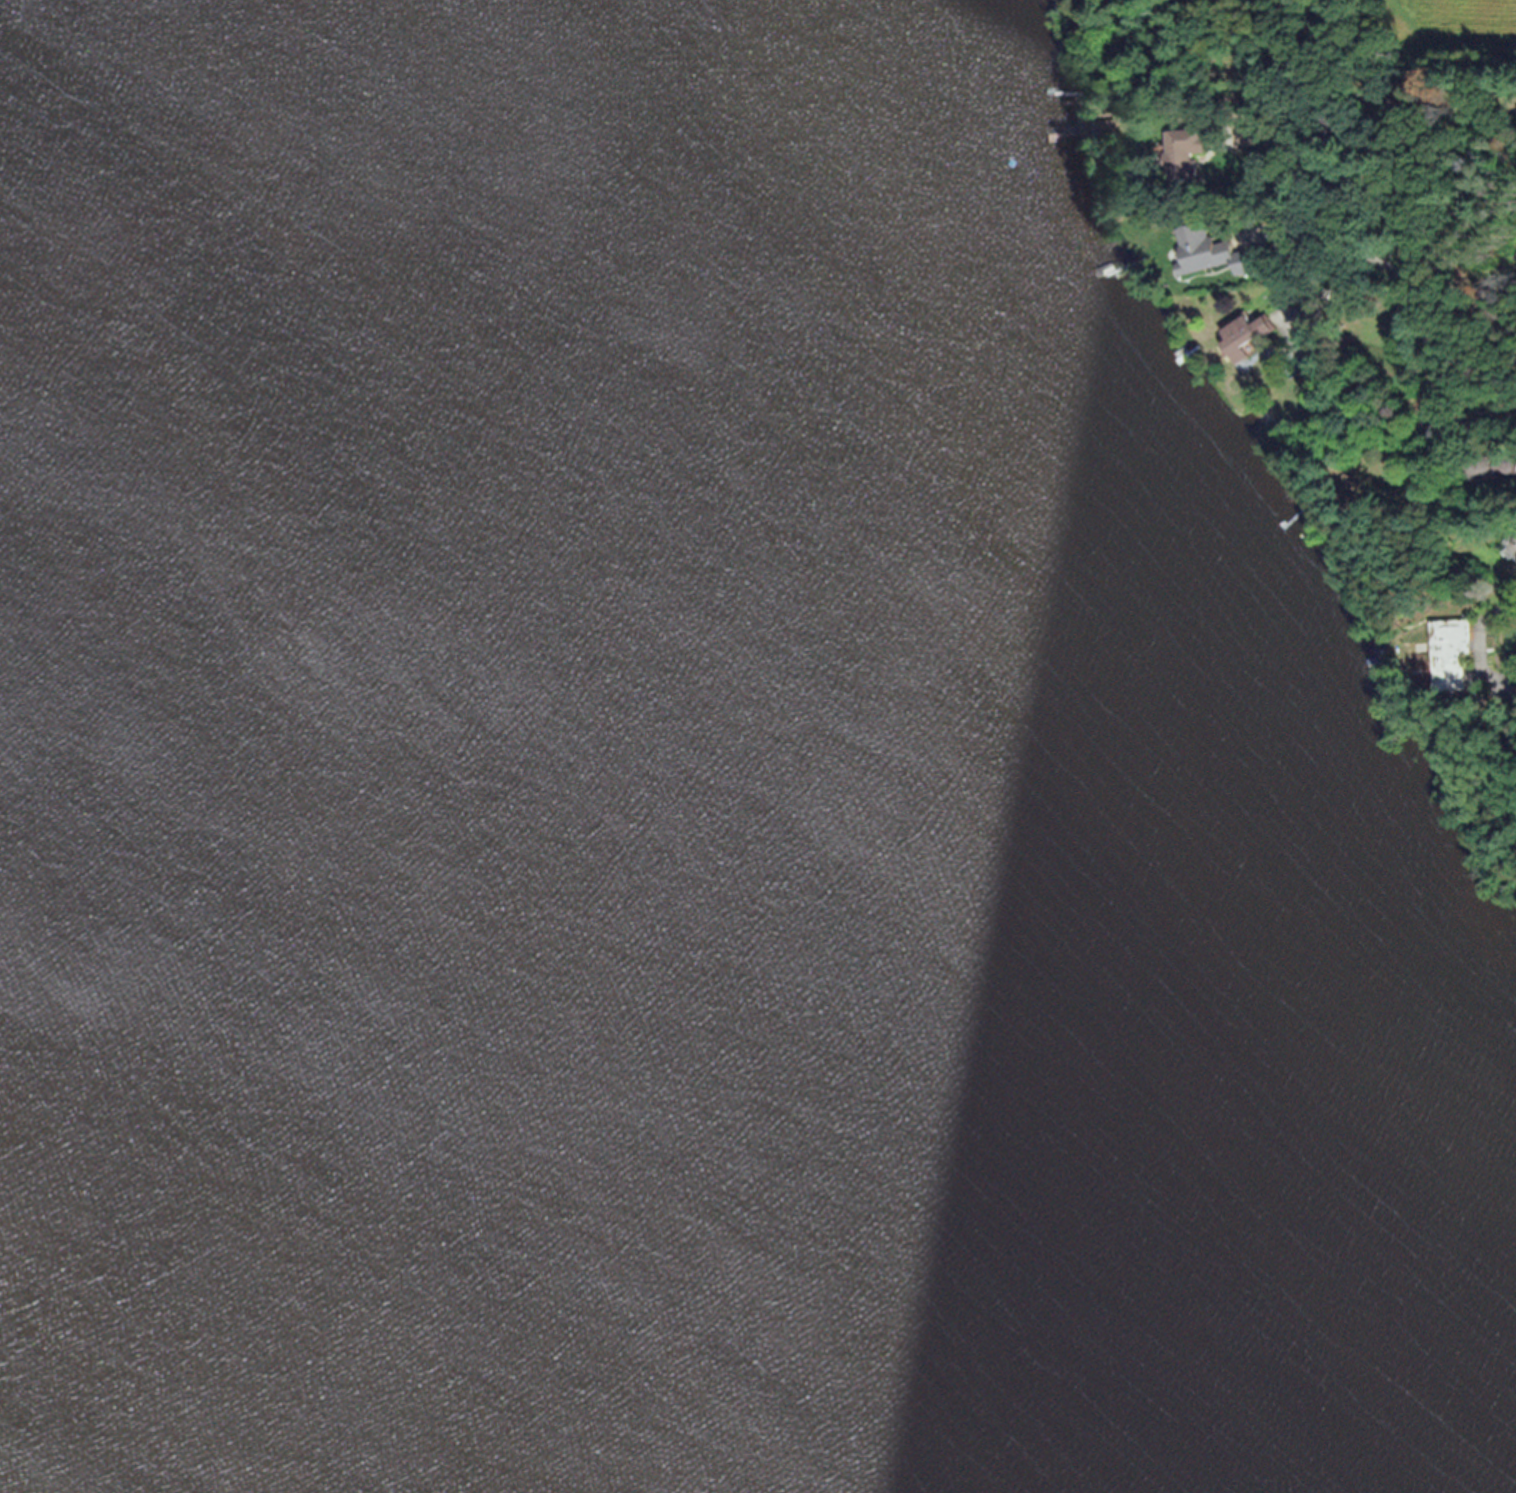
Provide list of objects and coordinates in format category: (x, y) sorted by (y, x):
building: (1185, 146)
building: (1202, 244)
building: (1244, 330)
building: (1487, 478)
building: (1514, 541)
building: (1450, 648)

